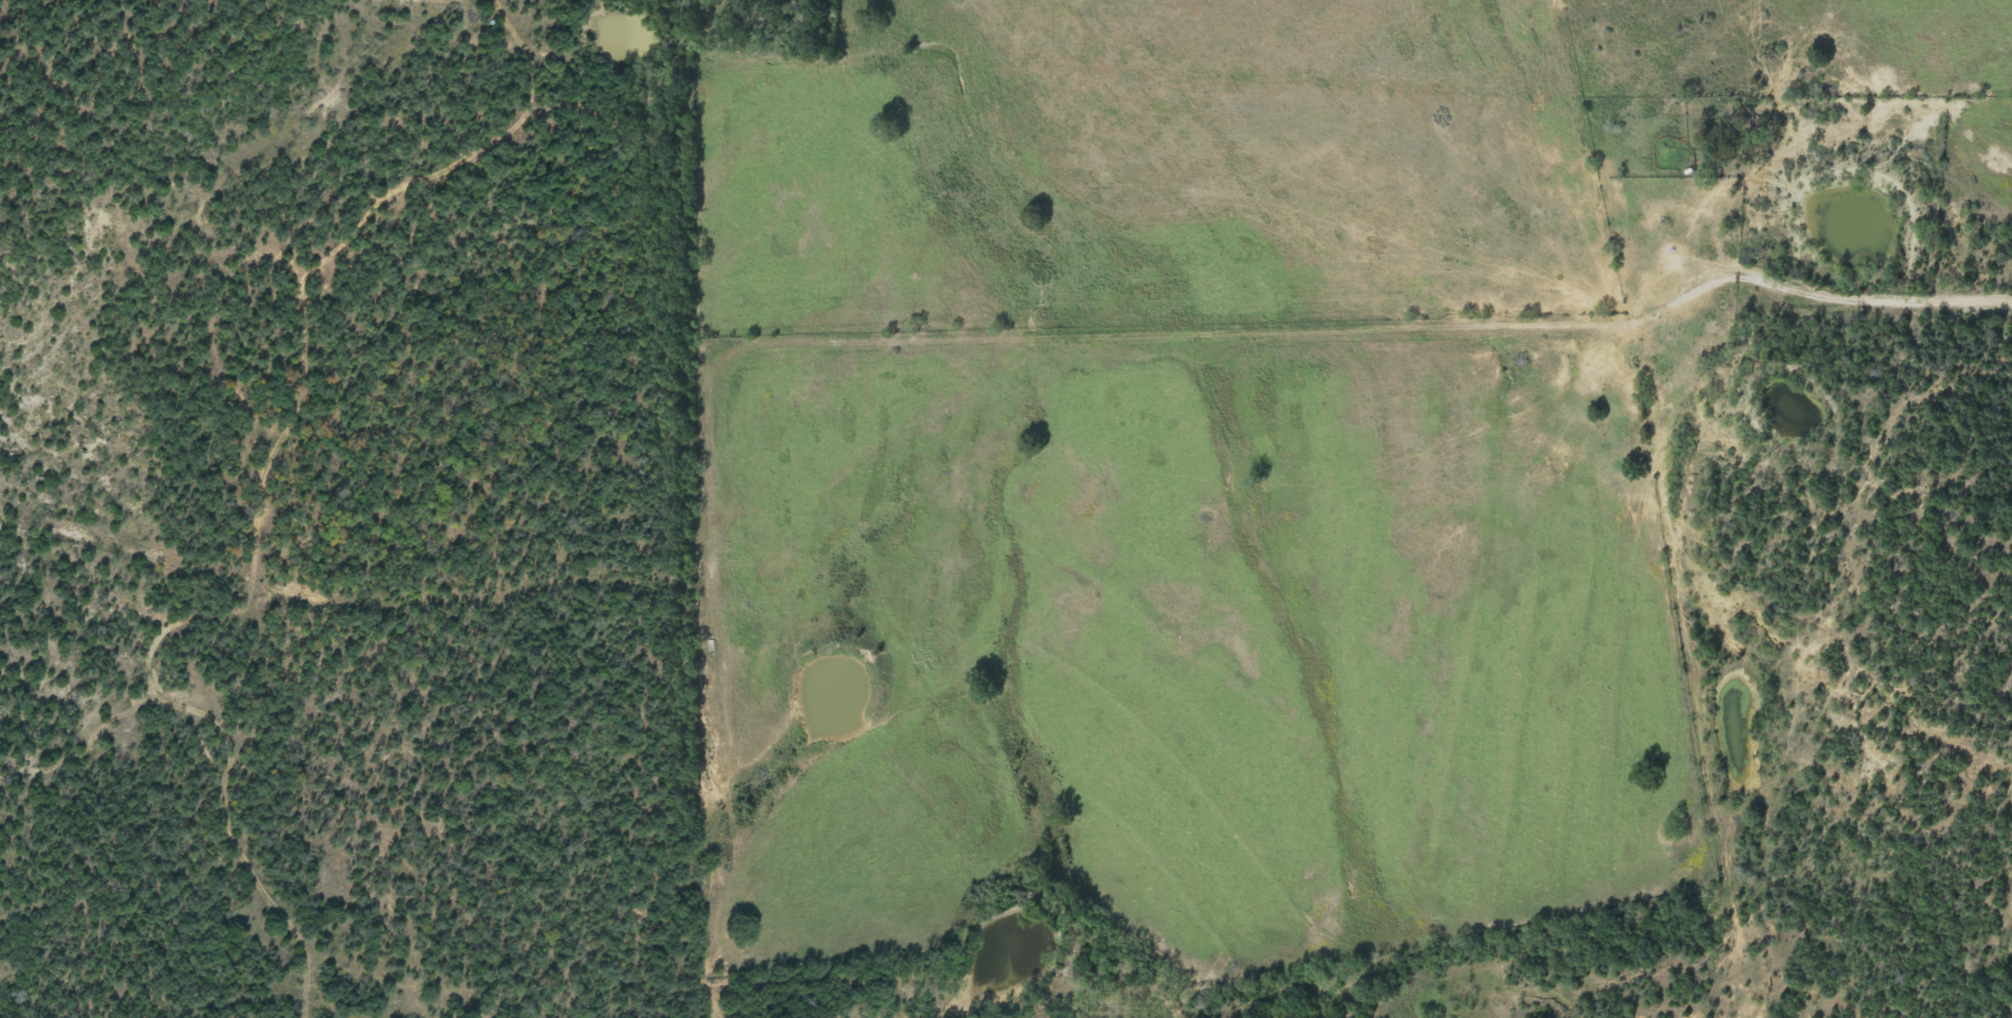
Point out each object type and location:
road: (1022, 331)
road: (1751, 618)

